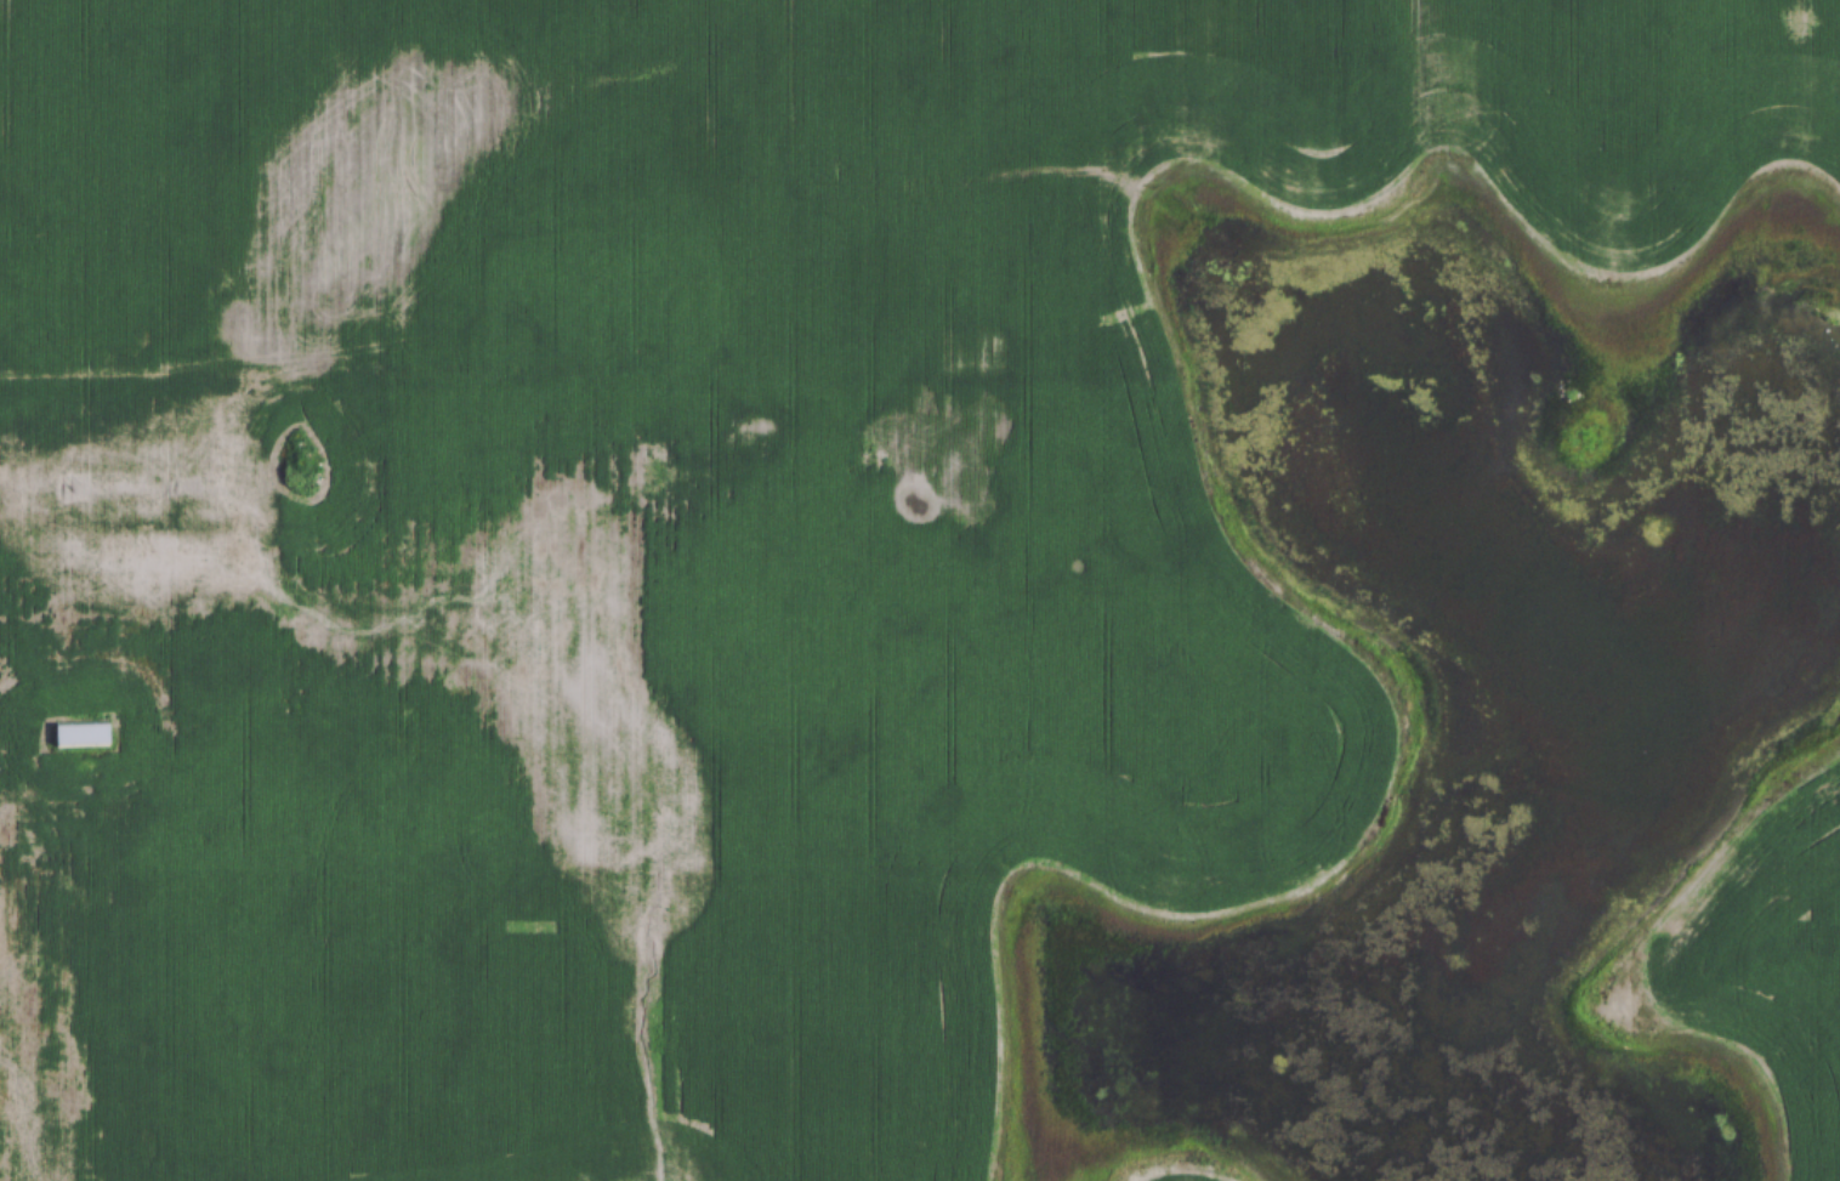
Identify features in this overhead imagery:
building: (79, 734)

